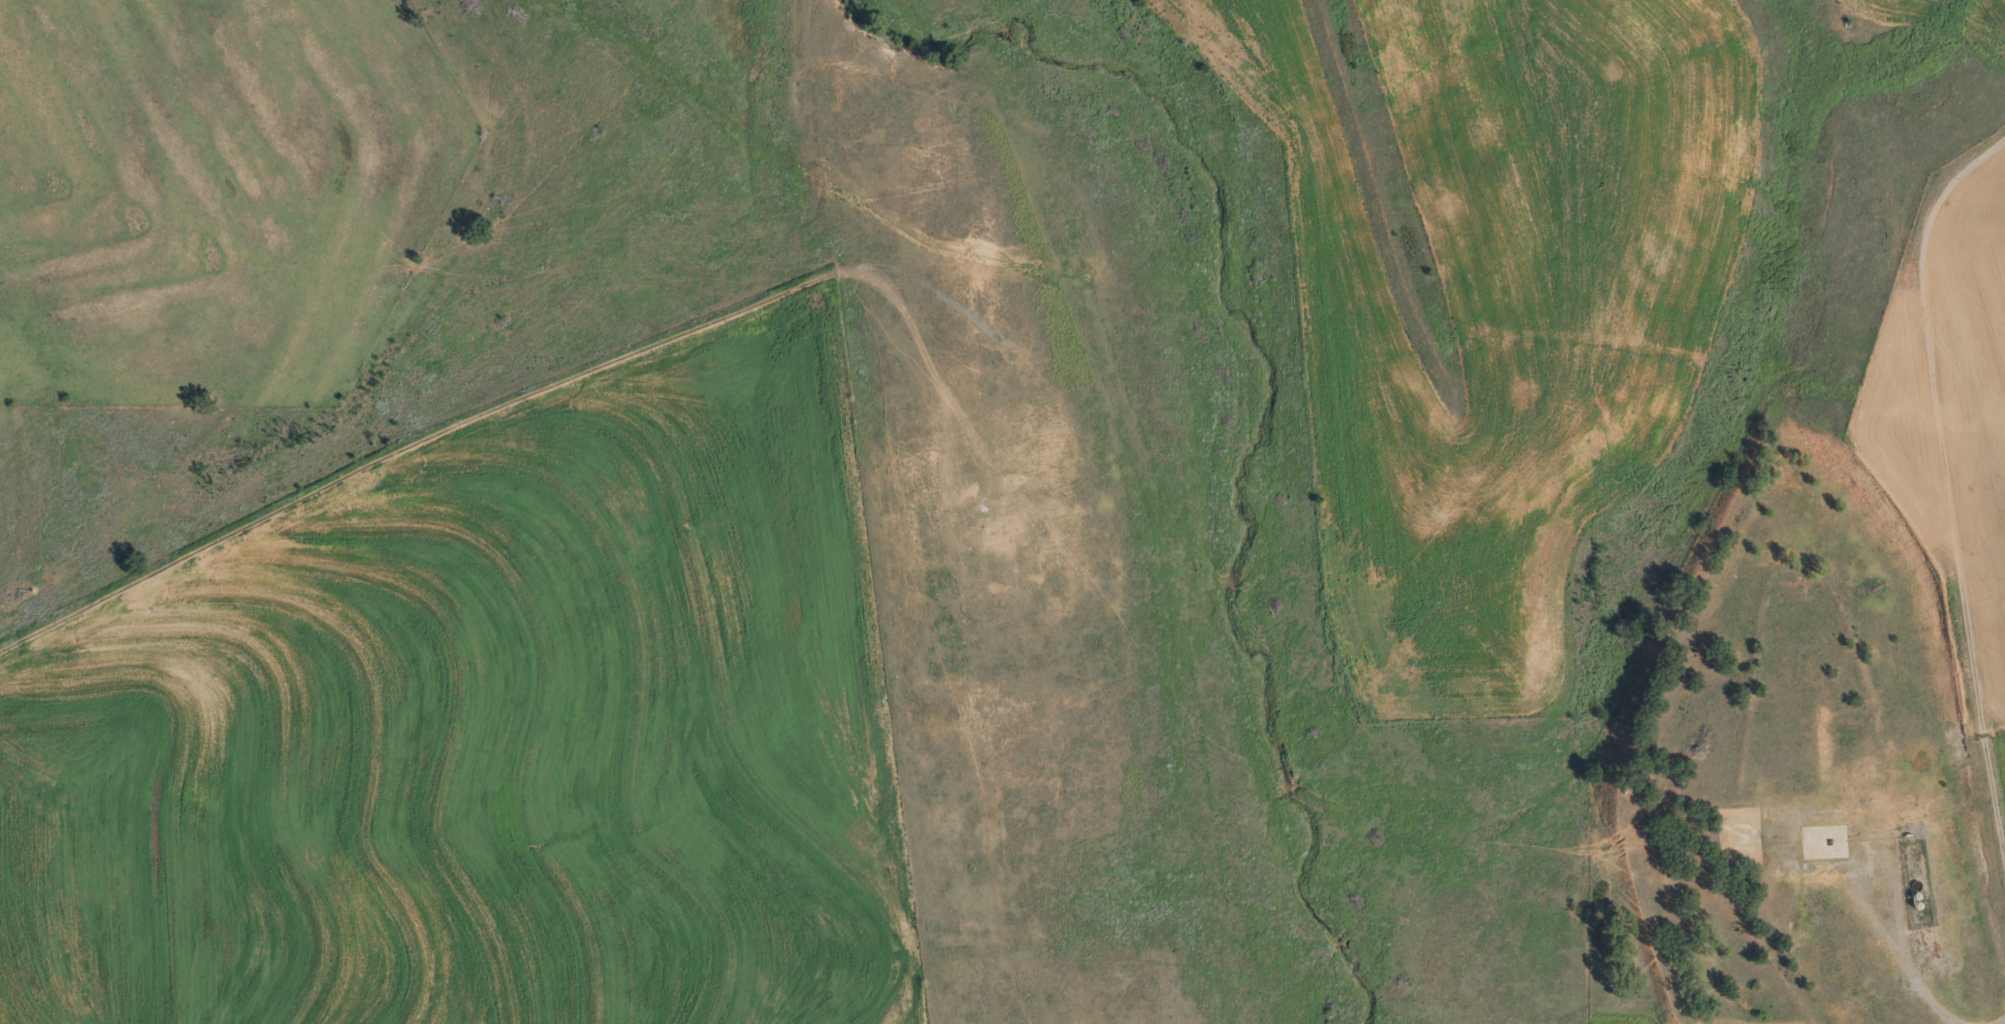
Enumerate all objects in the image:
building: (1824, 843)

